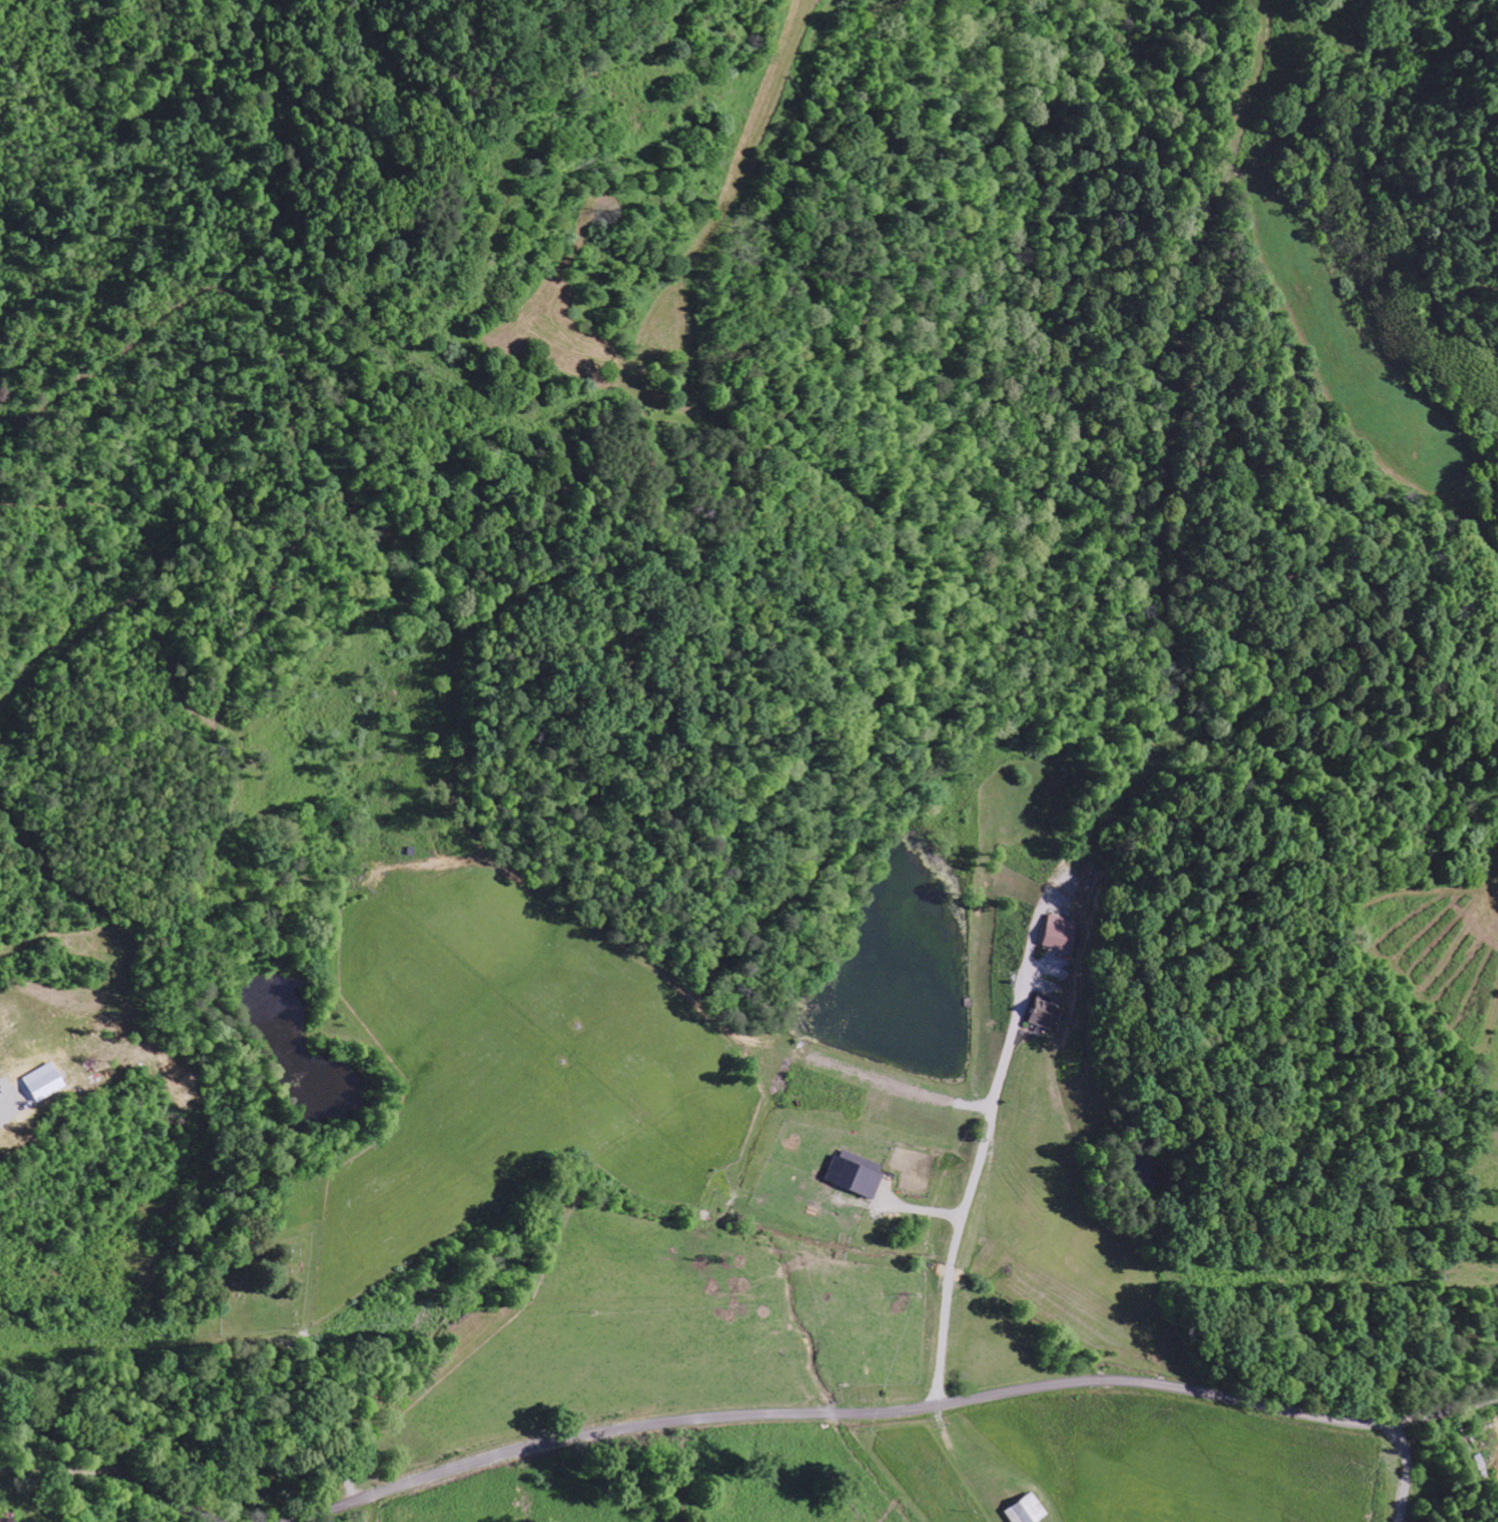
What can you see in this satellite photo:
building: (1062, 934)
building: (1046, 1012)
building: (47, 1082)
building: (858, 1175)
road: (895, 1415)
road: (112, 1461)
road: (347, 1488)
building: (1029, 1511)

